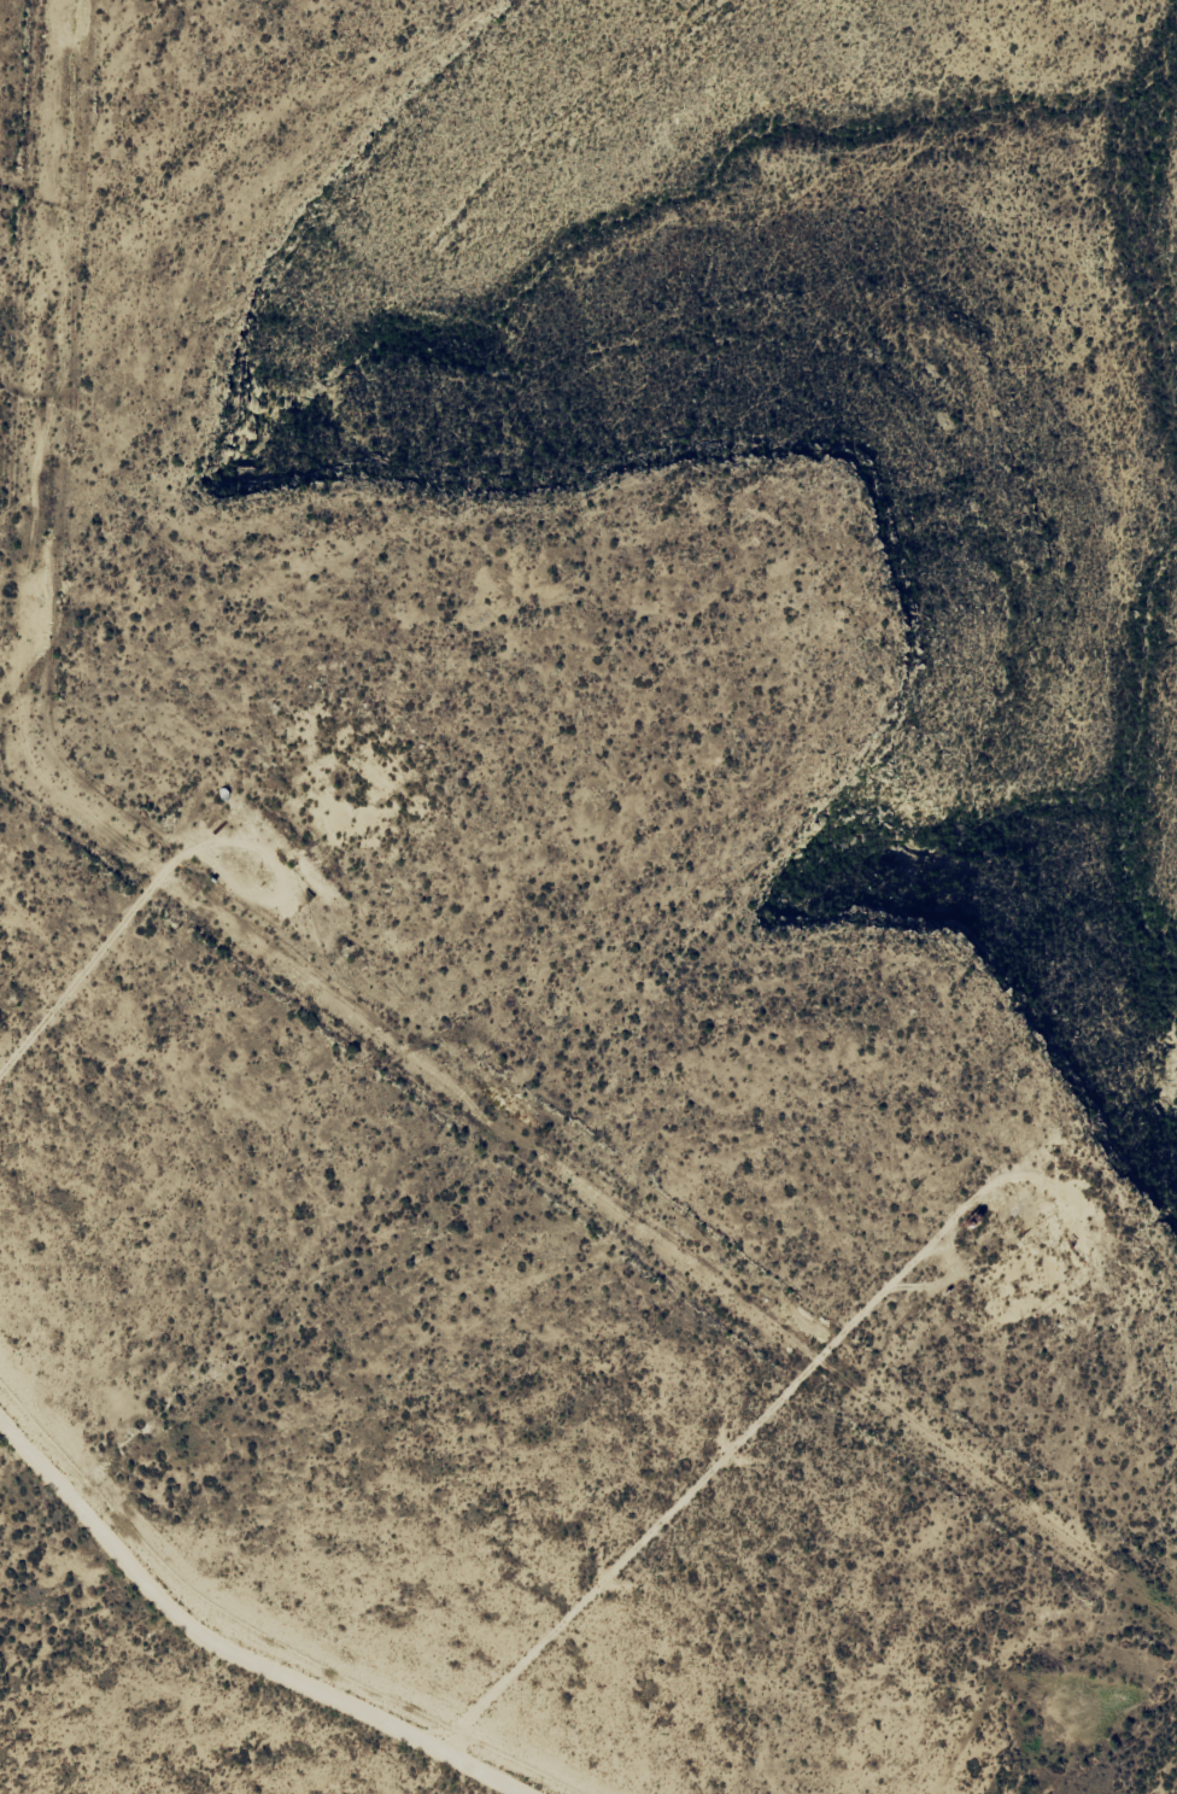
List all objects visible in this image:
road: (207, 1599)

